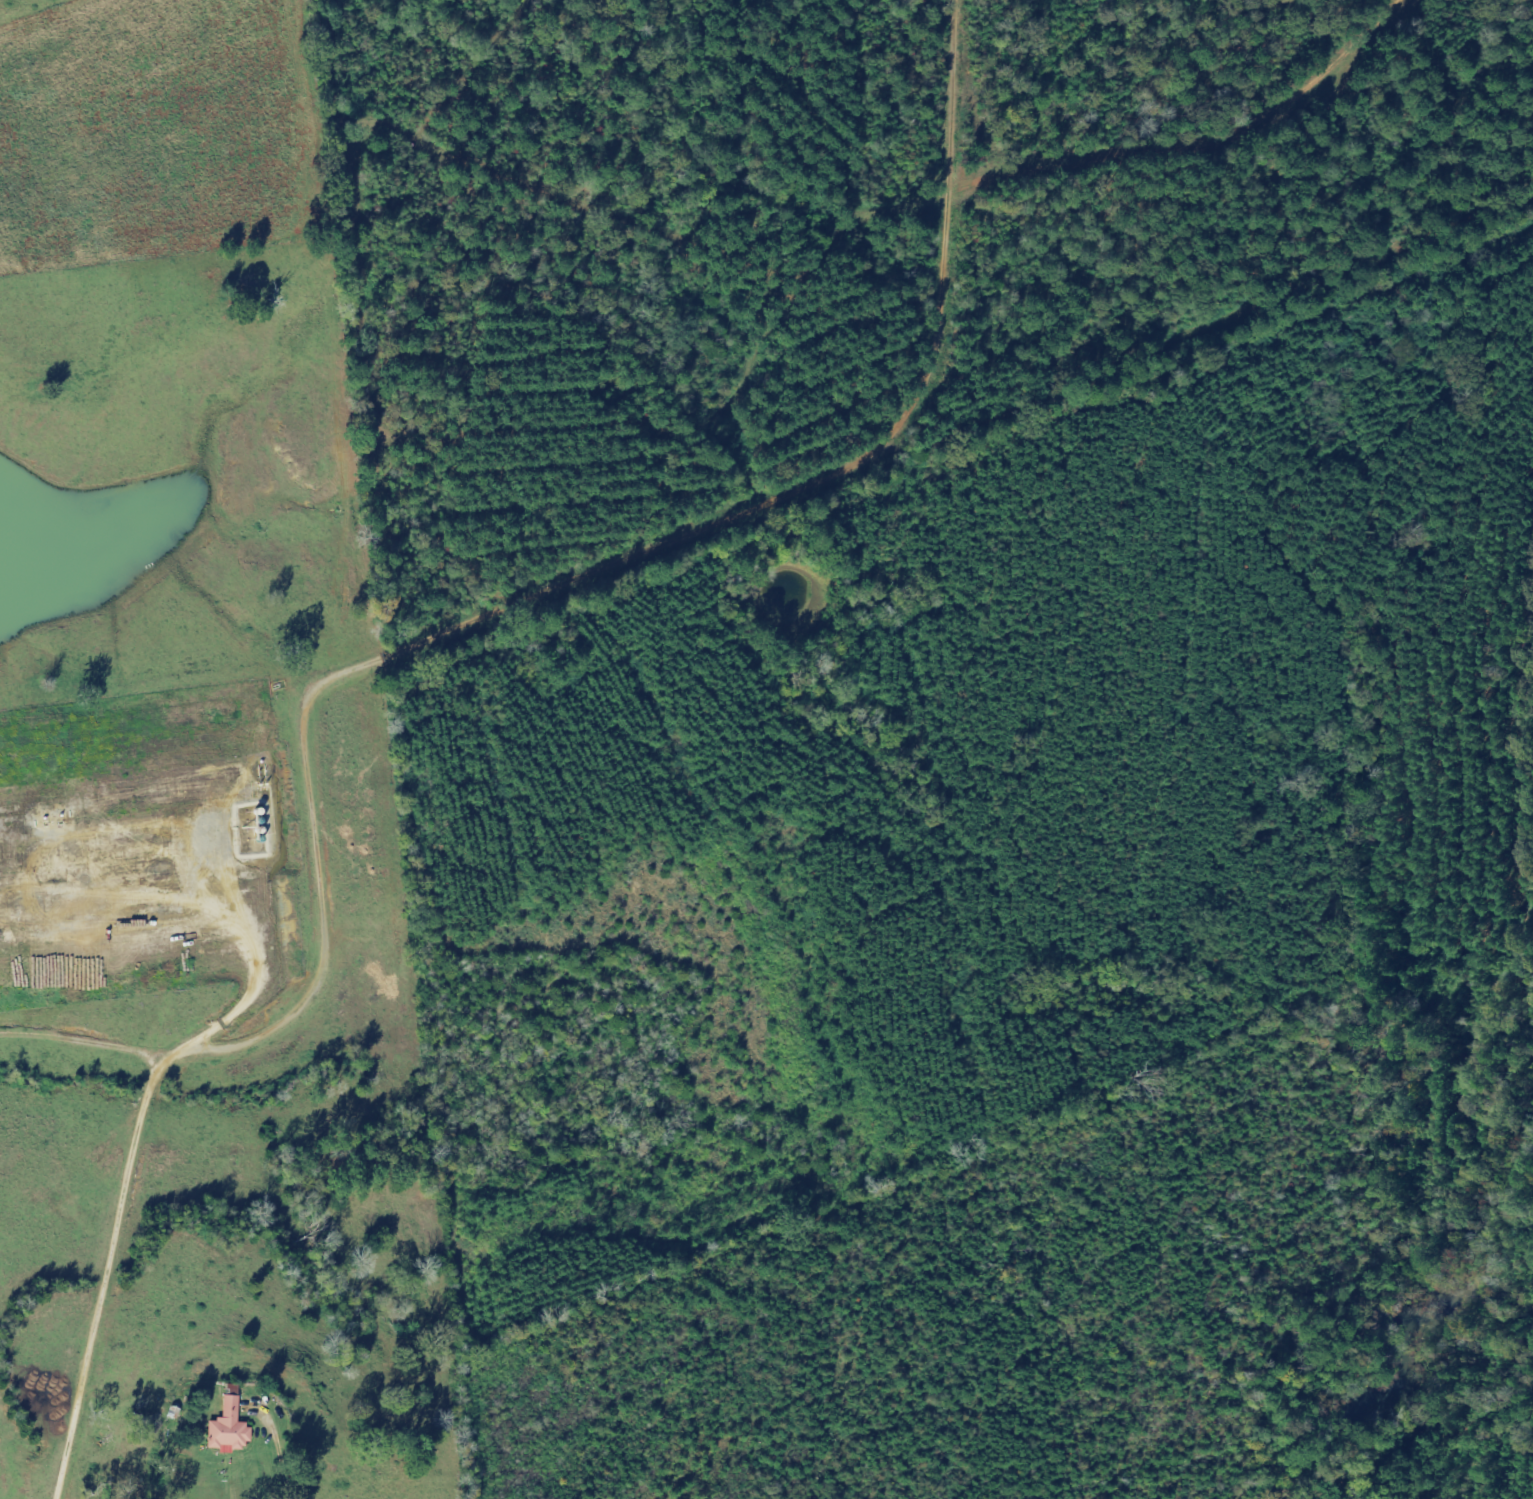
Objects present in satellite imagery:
building: (231, 1426)

